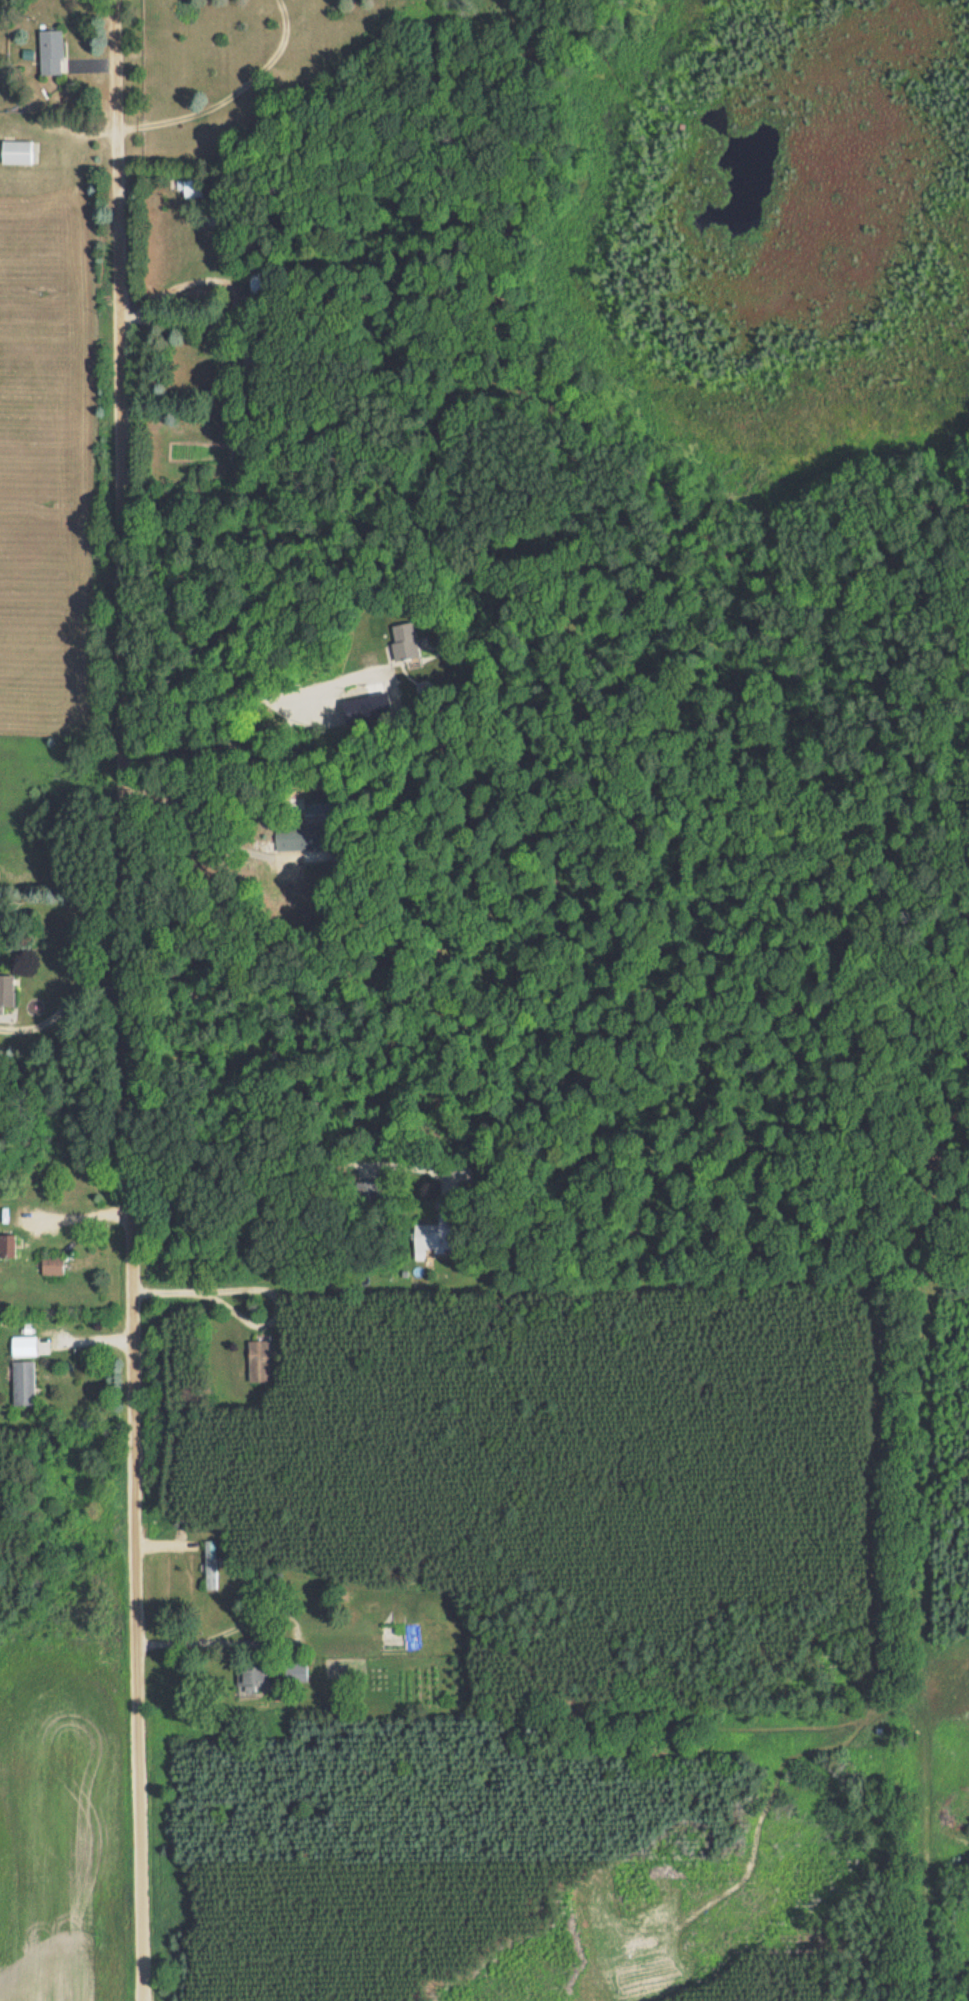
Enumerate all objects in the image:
building: (50, 51)
road: (228, 91)
building: (17, 151)
building: (191, 188)
building: (257, 283)
building: (404, 641)
road: (255, 697)
road: (206, 834)
building: (6, 990)
road: (129, 1000)
road: (63, 1006)
building: (369, 1188)
building: (432, 1240)
building: (7, 1245)
building: (52, 1265)
road: (255, 1290)
building: (30, 1345)
building: (259, 1360)
building: (23, 1382)
building: (211, 1564)
building: (254, 1676)

